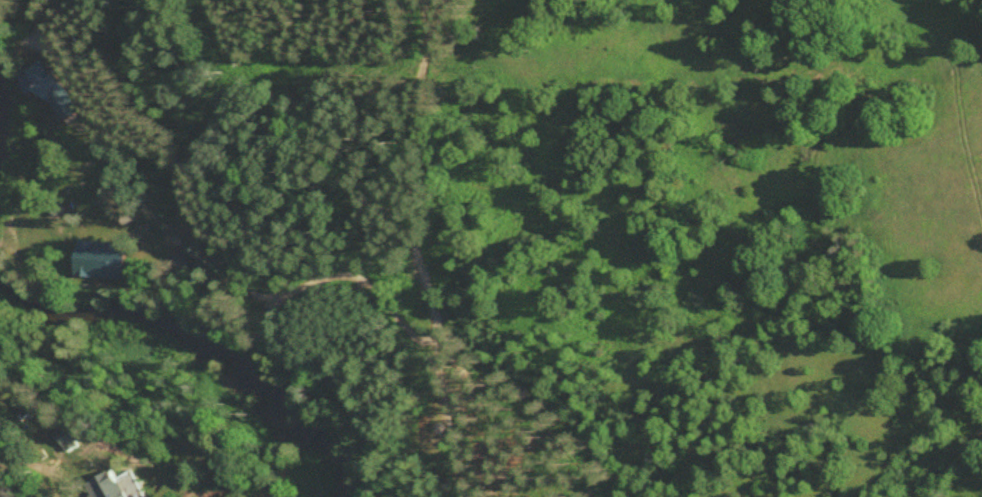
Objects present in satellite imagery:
building: (54, 87)
road: (176, 234)
road: (417, 250)
building: (105, 258)
building: (181, 264)
road: (360, 275)
river: (202, 342)
road: (29, 430)
building: (118, 485)

